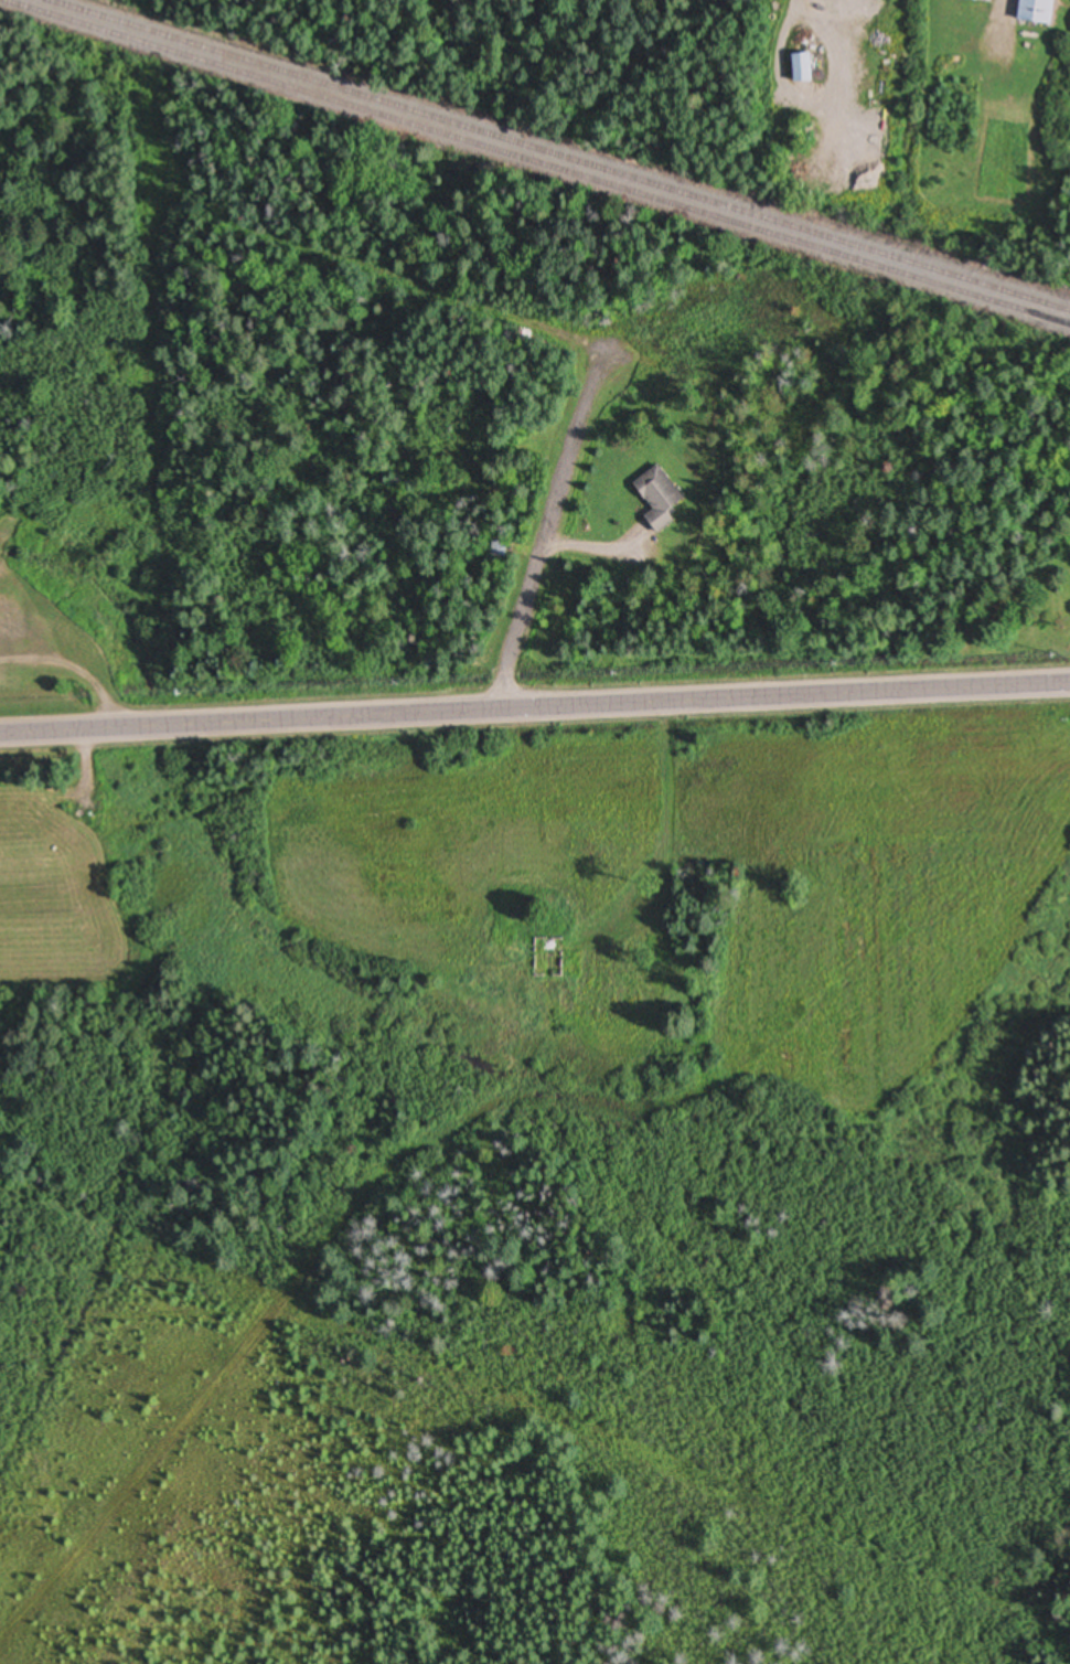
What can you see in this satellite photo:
building: (980, 1)
building: (1034, 11)
building: (799, 68)
railway: (558, 154)
railway: (535, 162)
building: (656, 499)
road: (548, 530)
road: (534, 707)

